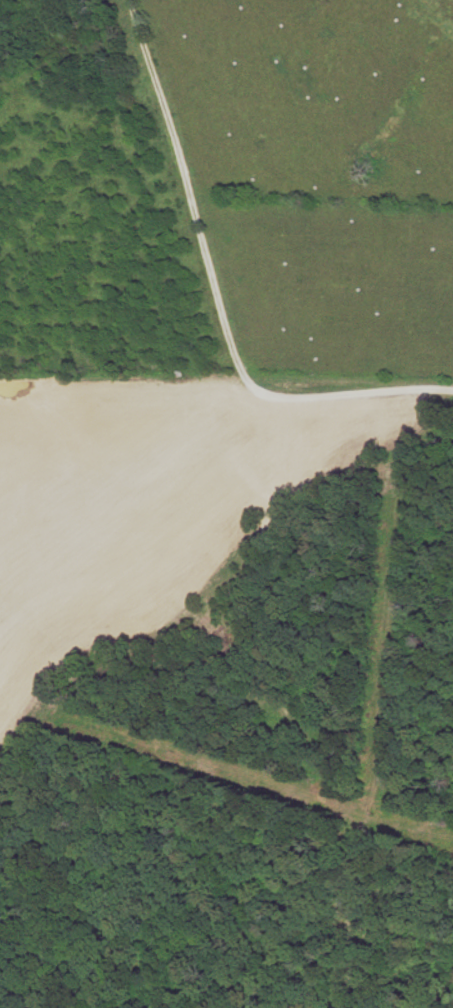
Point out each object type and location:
road: (216, 292)

